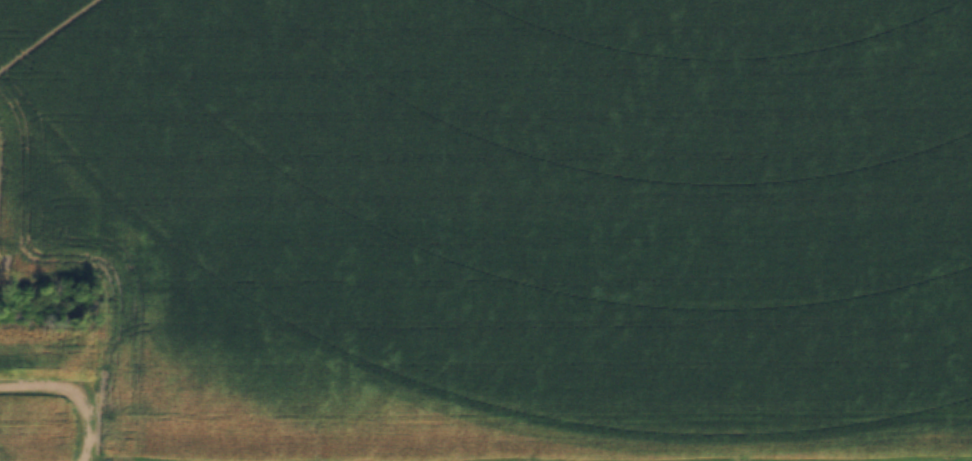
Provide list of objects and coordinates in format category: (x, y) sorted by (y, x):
building: (49, 82)
road: (68, 397)

